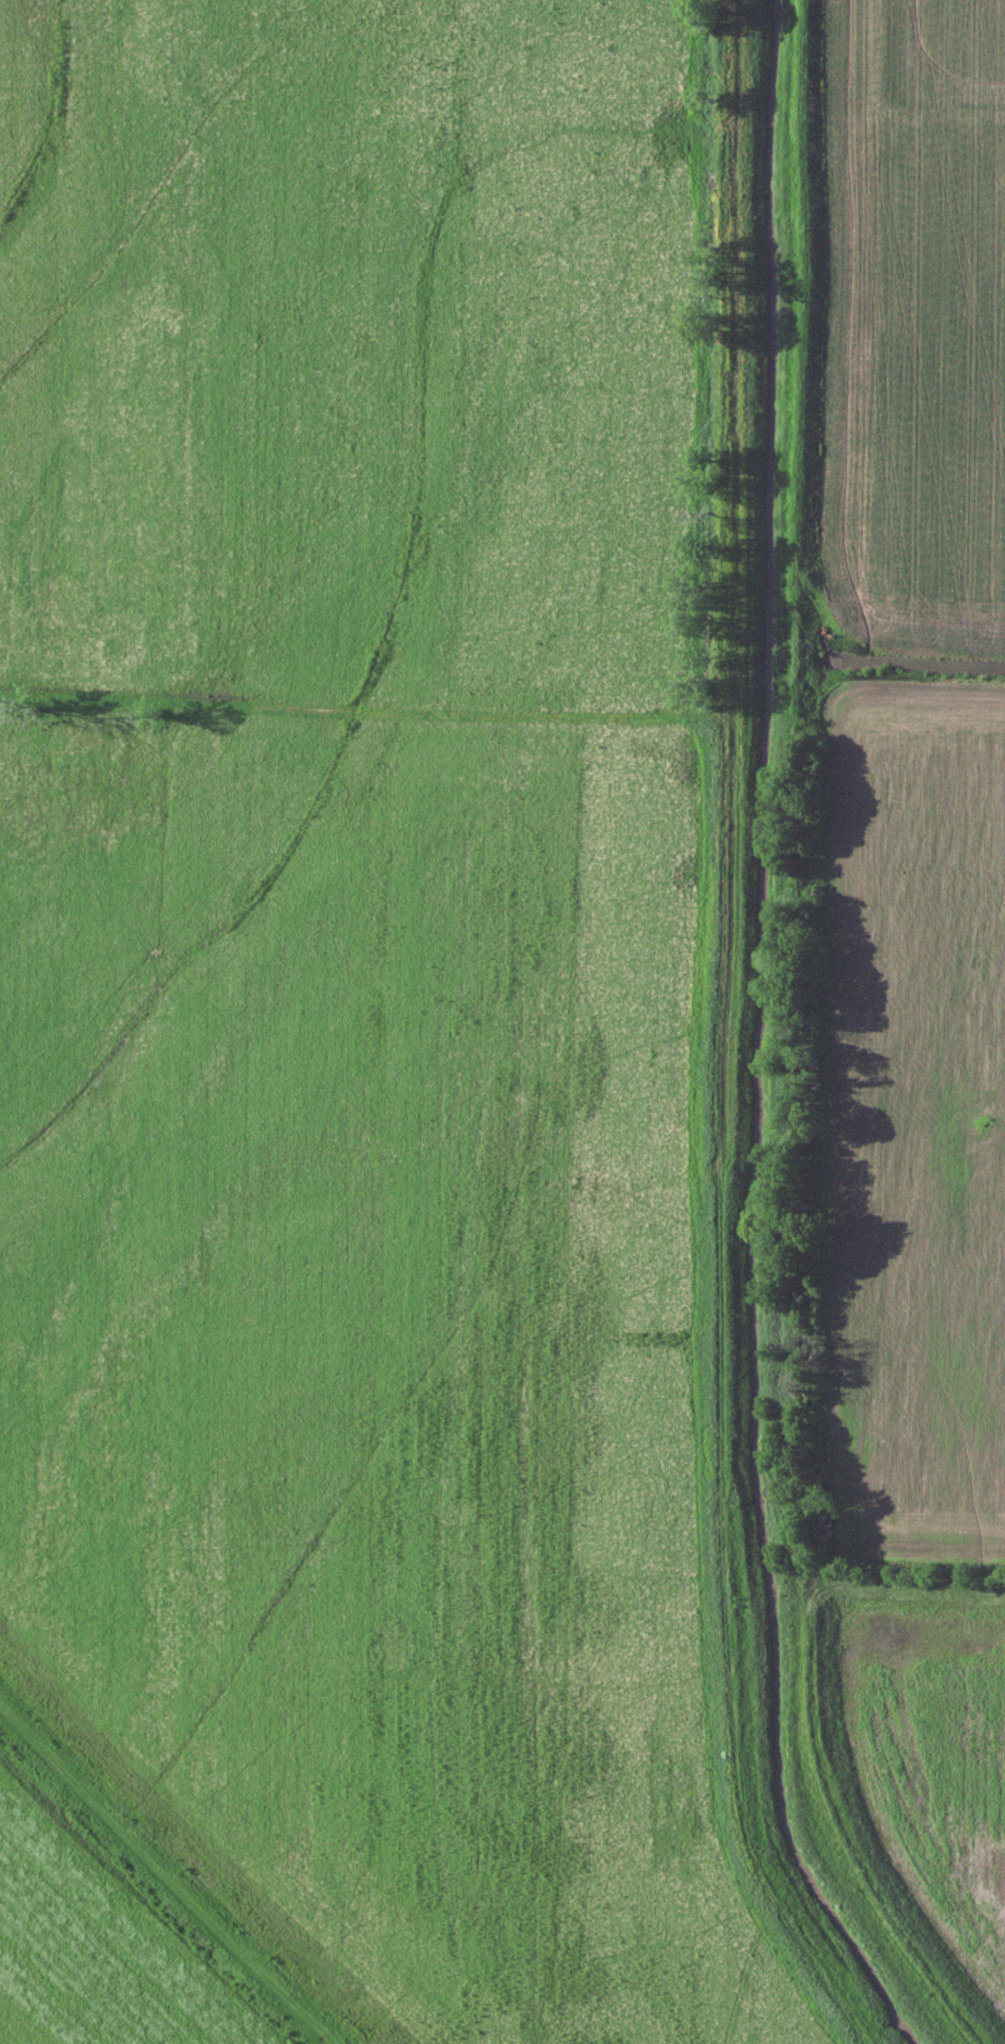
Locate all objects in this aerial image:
road: (163, 1878)

